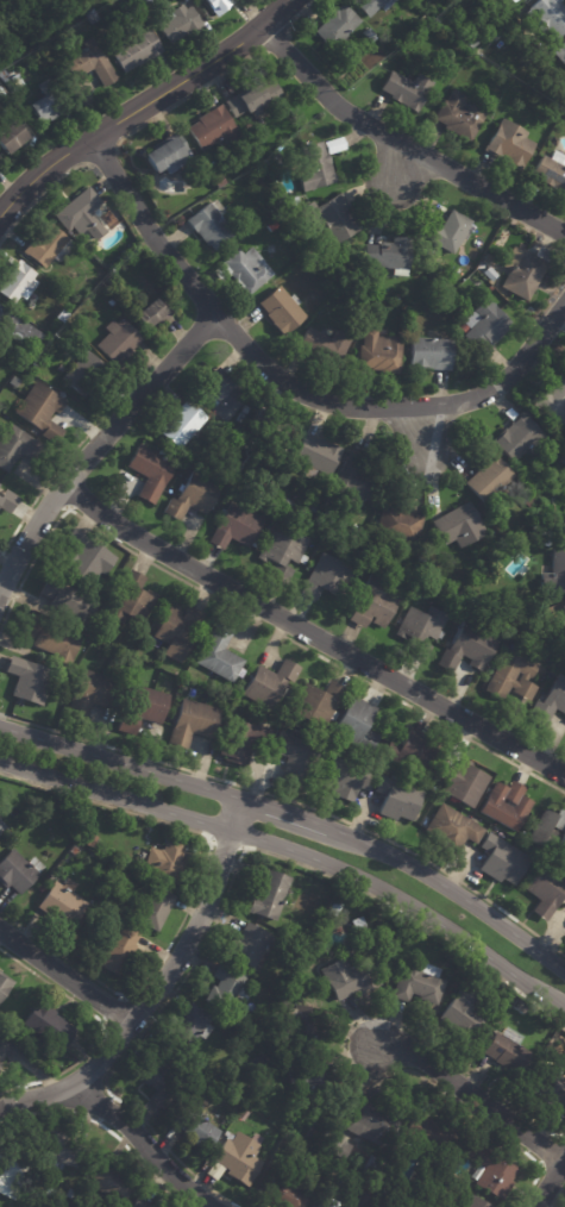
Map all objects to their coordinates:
building: (140, 2)
building: (372, 5)
building: (214, 6)
building: (90, 15)
building: (547, 17)
building: (422, 18)
building: (441, 19)
building: (175, 24)
building: (335, 24)
building: (368, 32)
building: (495, 36)
building: (472, 38)
building: (133, 49)
building: (358, 49)
building: (560, 51)
building: (90, 63)
building: (10, 82)
building: (406, 89)
building: (0, 94)
building: (252, 98)
building: (564, 101)
building: (44, 104)
road: (143, 105)
building: (552, 114)
building: (458, 115)
building: (213, 127)
building: (10, 136)
building: (509, 143)
road: (403, 144)
building: (167, 154)
road: (400, 165)
building: (315, 167)
building: (551, 169)
building: (216, 180)
road: (40, 194)
building: (291, 200)
building: (280, 202)
building: (80, 214)
building: (106, 214)
building: (329, 217)
building: (208, 224)
building: (272, 226)
building: (446, 231)
building: (46, 246)
building: (389, 255)
building: (243, 269)
building: (523, 269)
building: (15, 281)
building: (281, 309)
building: (151, 313)
building: (61, 314)
building: (483, 324)
building: (409, 327)
building: (17, 334)
building: (117, 340)
building: (324, 344)
building: (379, 351)
building: (431, 354)
building: (81, 373)
road: (290, 389)
building: (218, 393)
building: (1, 399)
building: (552, 401)
building: (40, 411)
building: (182, 424)
building: (269, 429)
road: (426, 430)
building: (520, 437)
building: (17, 446)
road: (98, 446)
building: (315, 455)
building: (563, 461)
building: (150, 471)
building: (488, 476)
building: (354, 481)
road: (48, 482)
building: (260, 495)
building: (192, 496)
building: (7, 499)
building: (528, 501)
building: (285, 502)
building: (331, 505)
building: (312, 508)
building: (563, 523)
building: (400, 525)
building: (459, 525)
building: (234, 526)
building: (540, 536)
building: (282, 551)
building: (83, 559)
building: (554, 573)
building: (326, 577)
building: (130, 600)
building: (68, 601)
building: (371, 601)
building: (470, 602)
building: (560, 614)
road: (253, 619)
building: (421, 628)
building: (176, 631)
road: (310, 634)
building: (50, 640)
building: (467, 648)
building: (219, 653)
building: (513, 676)
building: (29, 680)
building: (269, 683)
building: (93, 690)
building: (284, 693)
building: (550, 701)
building: (316, 703)
building: (140, 707)
building: (192, 723)
building: (354, 725)
building: (244, 742)
building: (412, 752)
building: (295, 757)
road: (120, 762)
building: (345, 778)
building: (464, 781)
building: (396, 799)
road: (296, 802)
building: (506, 805)
road: (289, 814)
road: (214, 826)
building: (1, 827)
building: (452, 827)
building: (550, 832)
road: (297, 852)
building: (69, 853)
building: (501, 859)
building: (165, 861)
building: (17, 870)
building: (142, 883)
road: (226, 888)
building: (545, 889)
road: (193, 892)
road: (456, 894)
building: (270, 896)
building: (59, 906)
building: (152, 908)
building: (333, 908)
building: (99, 925)
building: (358, 930)
building: (246, 944)
building: (290, 945)
building: (118, 949)
road: (177, 956)
road: (65, 977)
building: (347, 978)
building: (418, 982)
building: (4, 984)
building: (222, 987)
road: (113, 1008)
building: (519, 1008)
building: (462, 1014)
building: (46, 1025)
building: (189, 1027)
building: (301, 1027)
road: (103, 1028)
building: (6, 1047)
building: (48, 1050)
road: (344, 1051)
building: (507, 1052)
building: (0, 1065)
building: (253, 1067)
building: (309, 1075)
building: (157, 1081)
building: (552, 1088)
road: (473, 1096)
road: (26, 1097)
road: (34, 1097)
road: (105, 1109)
building: (241, 1113)
building: (371, 1121)
building: (194, 1130)
building: (313, 1130)
building: (428, 1136)
road: (118, 1137)
road: (143, 1143)
building: (338, 1147)
building: (61, 1151)
building: (237, 1158)
road: (542, 1164)
building: (371, 1167)
building: (490, 1172)
building: (8, 1176)
road: (550, 1183)
building: (111, 1184)
building: (335, 1187)
building: (284, 1195)
road: (558, 1196)
building: (363, 1201)
building: (471, 1202)
building: (138, 1203)
building: (326, 1203)

